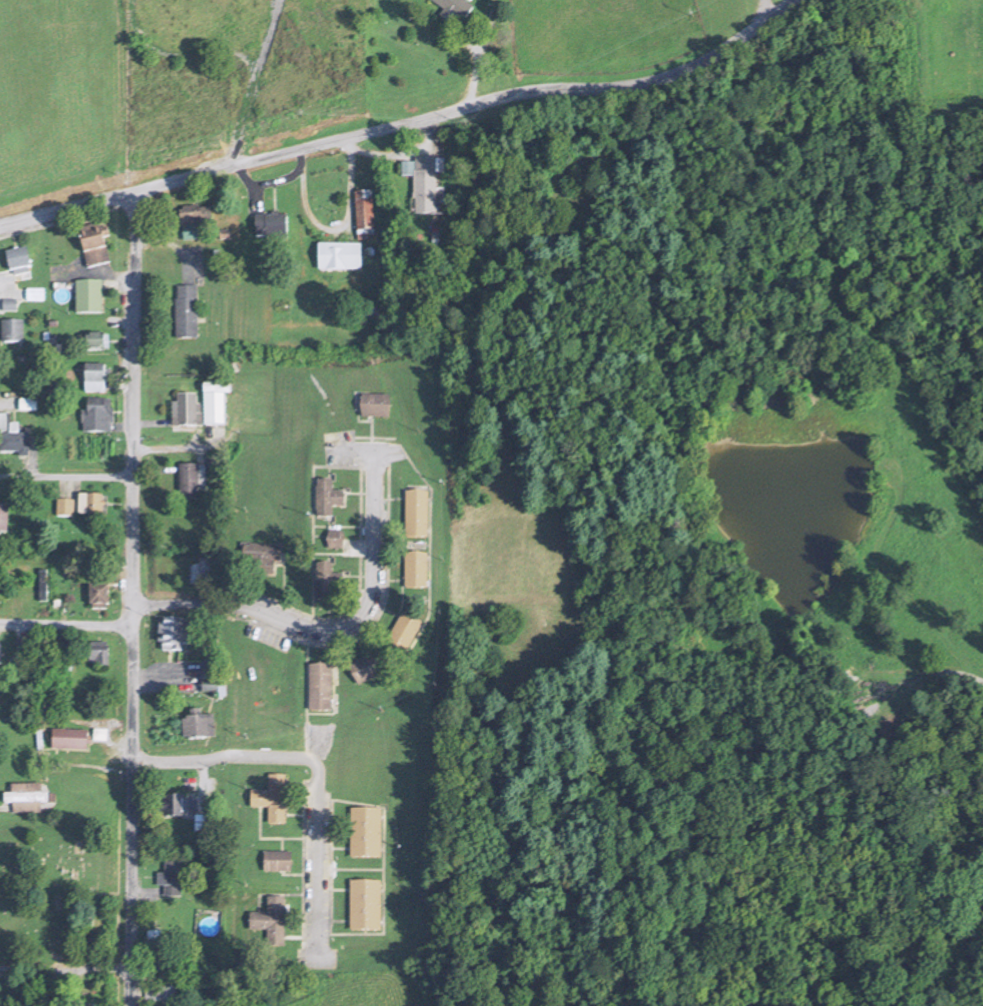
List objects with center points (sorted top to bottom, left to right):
building: (451, 9)
road: (765, 10)
road: (492, 26)
road: (269, 38)
road: (187, 49)
road: (475, 63)
road: (240, 121)
road: (402, 121)
road: (405, 151)
building: (425, 185)
road: (795, 206)
building: (193, 218)
building: (362, 226)
building: (270, 227)
road: (330, 228)
building: (92, 240)
road: (169, 241)
building: (17, 254)
building: (339, 257)
building: (88, 293)
building: (35, 294)
building: (184, 308)
building: (10, 327)
building: (96, 337)
building: (93, 374)
road: (5, 400)
building: (213, 405)
building: (374, 407)
building: (183, 408)
building: (97, 412)
road: (370, 428)
building: (10, 435)
parking lot: (354, 447)
road: (166, 449)
road: (152, 466)
road: (66, 477)
building: (187, 479)
road: (66, 484)
road: (353, 491)
road: (393, 496)
building: (326, 499)
building: (90, 501)
building: (65, 509)
building: (2, 514)
road: (312, 515)
building: (416, 515)
road: (899, 515)
road: (336, 523)
building: (334, 541)
road: (430, 549)
road: (335, 551)
road: (865, 552)
building: (261, 560)
building: (197, 569)
building: (415, 571)
road: (393, 576)
building: (325, 583)
building: (42, 586)
building: (96, 592)
road: (132, 599)
road: (350, 608)
road: (386, 609)
road: (330, 612)
road: (373, 618)
road: (67, 625)
road: (321, 628)
building: (172, 630)
building: (404, 633)
parking lot: (267, 637)
road: (828, 644)
building: (97, 651)
building: (23, 653)
building: (0, 655)
building: (364, 669)
road: (931, 678)
building: (319, 689)
road: (306, 699)
building: (196, 723)
building: (68, 736)
road: (66, 760)
road: (317, 770)
building: (27, 795)
building: (173, 798)
building: (271, 800)
road: (295, 813)
building: (206, 825)
building: (365, 833)
road: (265, 837)
road: (280, 842)
road: (335, 848)
road: (302, 858)
building: (276, 863)
road: (354, 867)
road: (291, 873)
building: (171, 874)
road: (335, 889)
building: (364, 906)
road: (336, 919)
building: (271, 922)
road: (380, 931)
road: (293, 937)
building: (155, 943)
road: (65, 967)
building: (161, 990)
building: (78, 1000)

